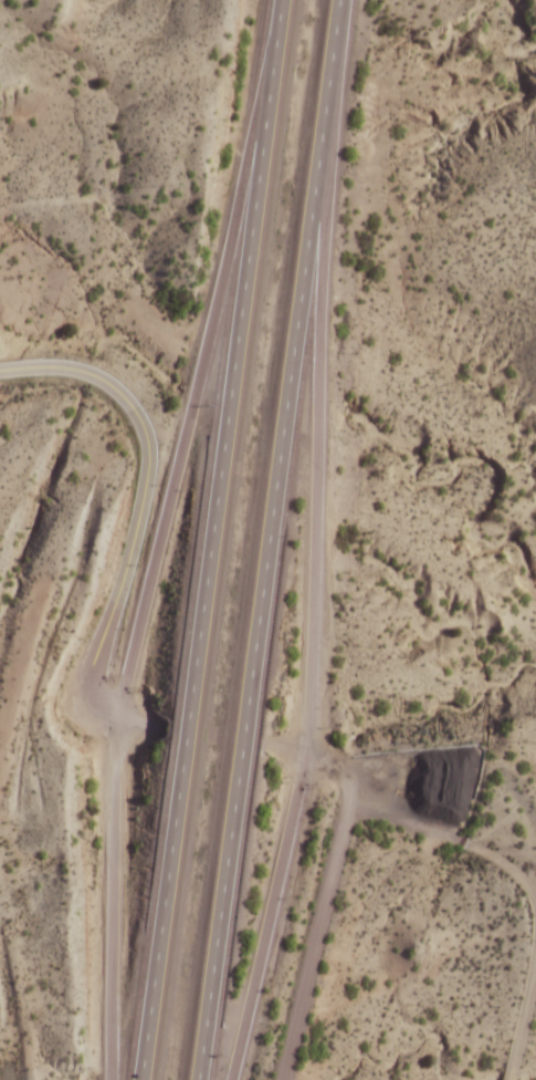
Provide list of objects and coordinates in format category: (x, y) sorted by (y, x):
road: (80, 197)
parking lot: (18, 347)
road: (20, 351)
road: (317, 405)
road: (141, 505)
road: (210, 539)
road: (267, 539)
road: (157, 551)
road: (139, 726)
road: (320, 755)
parking lot: (419, 785)
road: (449, 835)
road: (270, 913)
road: (313, 942)
road: (528, 1043)

